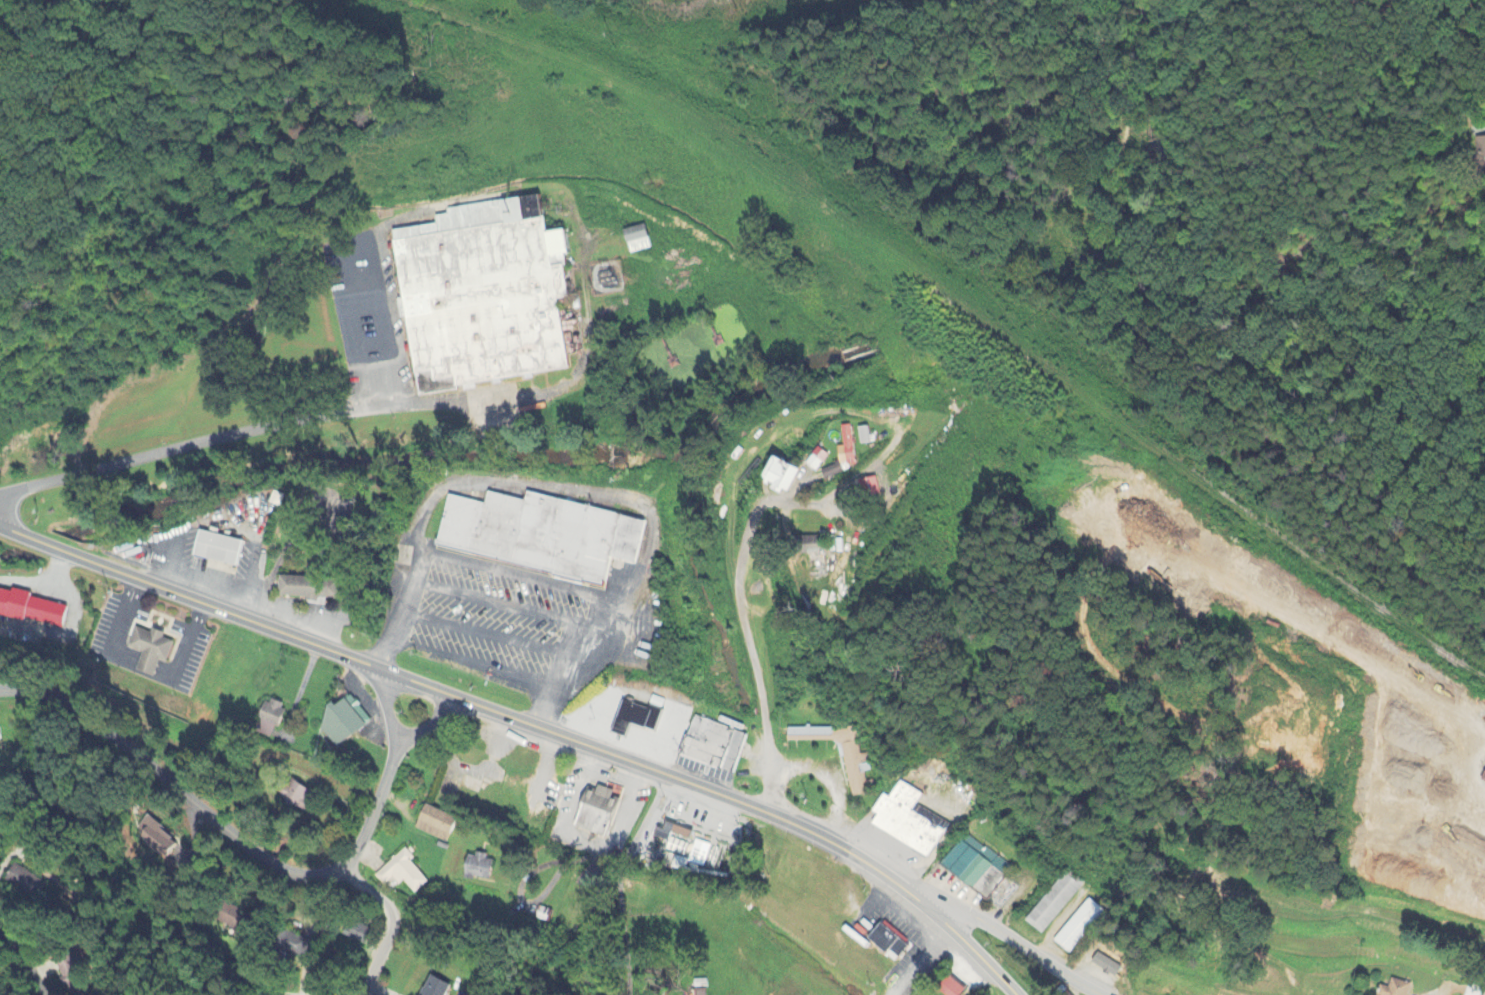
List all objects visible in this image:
building: (1480, 156)
road: (1097, 168)
building: (631, 240)
road: (361, 289)
building: (475, 296)
railway: (968, 306)
road: (368, 410)
building: (862, 437)
building: (845, 446)
building: (815, 461)
building: (830, 472)
building: (781, 479)
building: (866, 489)
road: (568, 490)
building: (534, 536)
building: (811, 546)
building: (212, 549)
road: (513, 575)
building: (301, 589)
road: (187, 599)
road: (500, 604)
building: (28, 611)
road: (736, 630)
road: (487, 635)
building: (144, 651)
road: (471, 666)
road: (138, 672)
road: (656, 702)
road: (603, 703)
road: (386, 709)
building: (631, 718)
building: (265, 719)
building: (339, 722)
road: (426, 724)
road: (664, 735)
road: (618, 740)
road: (613, 747)
building: (709, 747)
building: (855, 759)
road: (636, 764)
road: (1467, 768)
building: (1484, 776)
road: (826, 777)
building: (292, 795)
building: (591, 813)
road: (646, 813)
building: (908, 820)
building: (432, 824)
road: (222, 826)
building: (154, 838)
building: (696, 854)
building: (675, 864)
building: (975, 867)
building: (474, 868)
building: (400, 874)
building: (1054, 901)
road: (898, 913)
building: (235, 919)
road: (621, 922)
road: (393, 925)
building: (1079, 926)
building: (355, 933)
road: (954, 934)
road: (1005, 935)
building: (890, 940)
building: (292, 945)
road: (26, 960)
road: (919, 960)
building: (1105, 966)
building: (78, 976)
building: (953, 987)
building: (435, 988)
building: (1397, 988)

